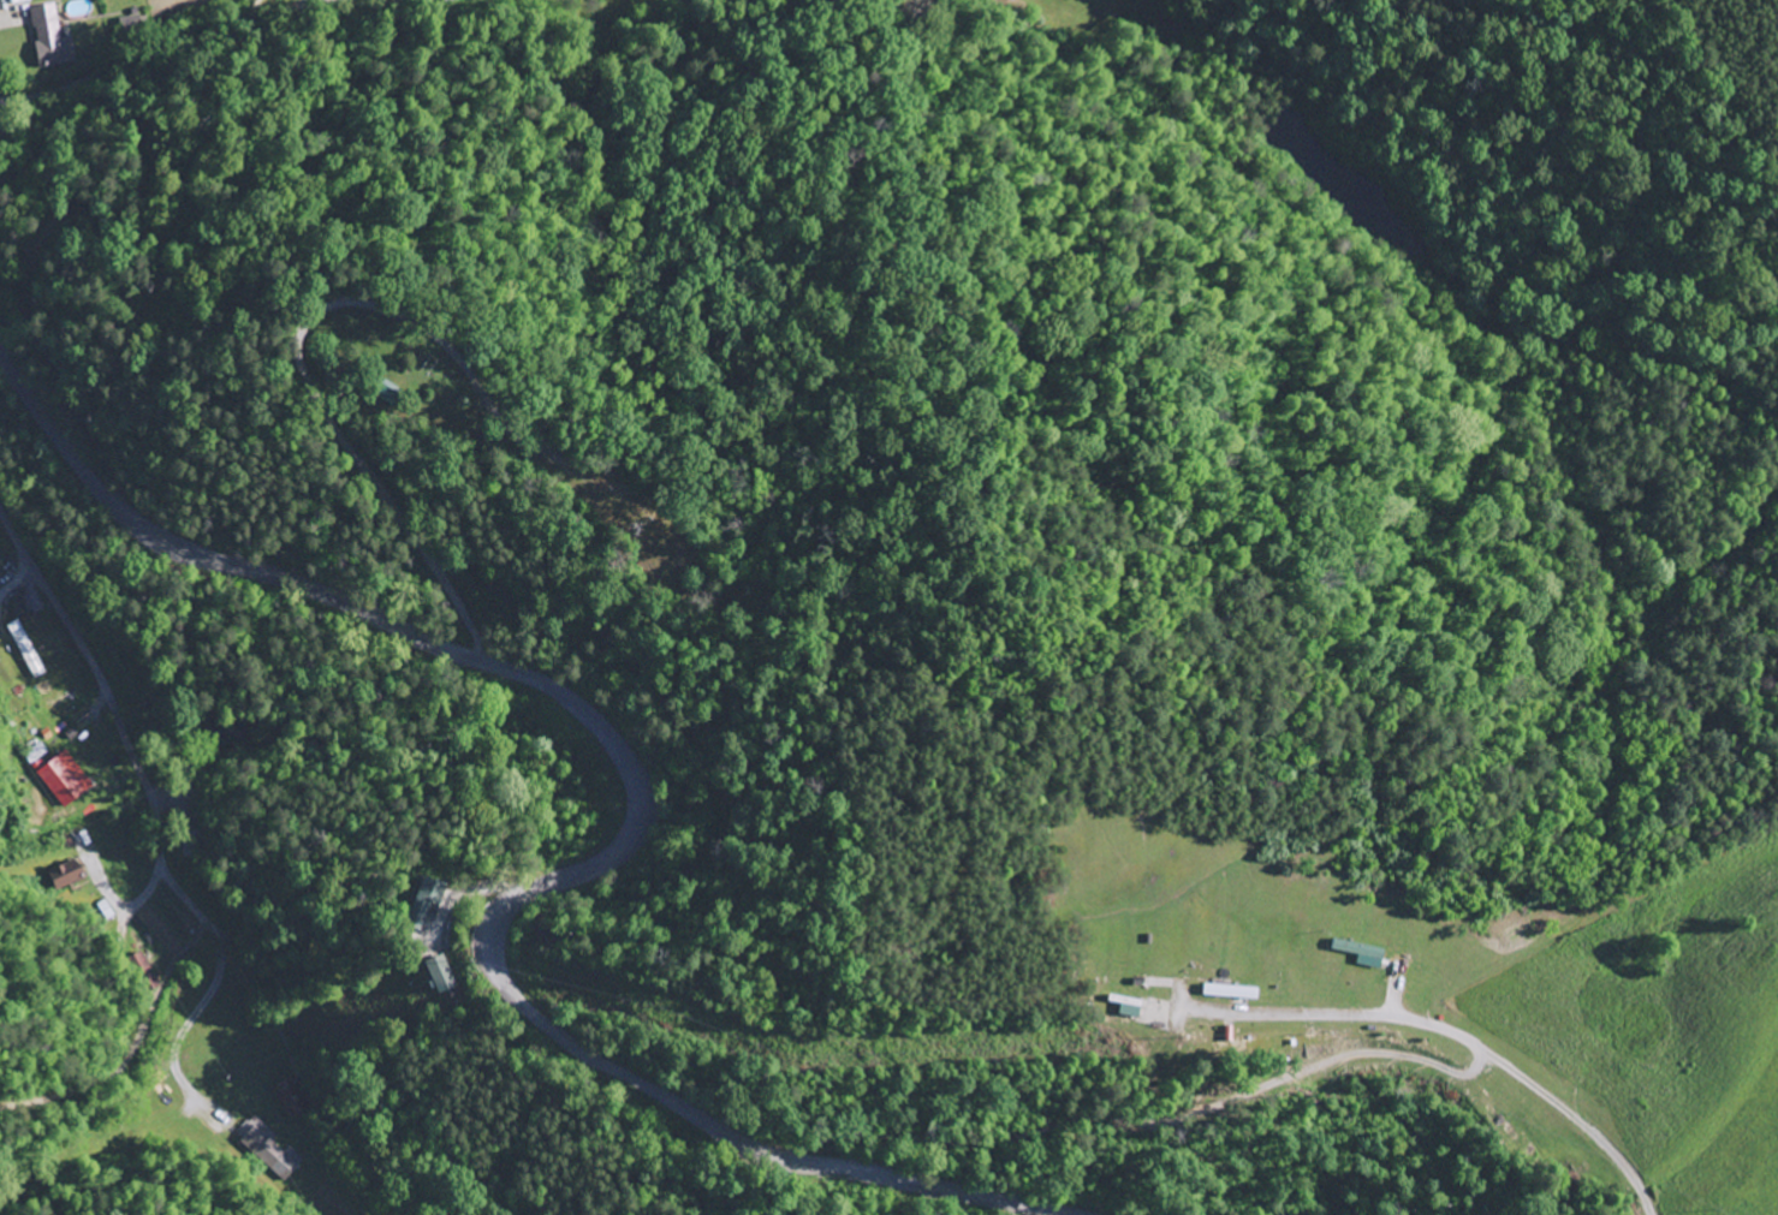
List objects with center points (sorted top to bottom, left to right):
building: (54, 40)
road: (131, 59)
building: (70, 780)
road: (637, 833)
building: (71, 875)
road: (172, 883)
building: (428, 900)
building: (1363, 953)
building: (442, 976)
building: (1235, 993)
road: (1451, 1034)
building: (292, 1098)
building: (275, 1154)

